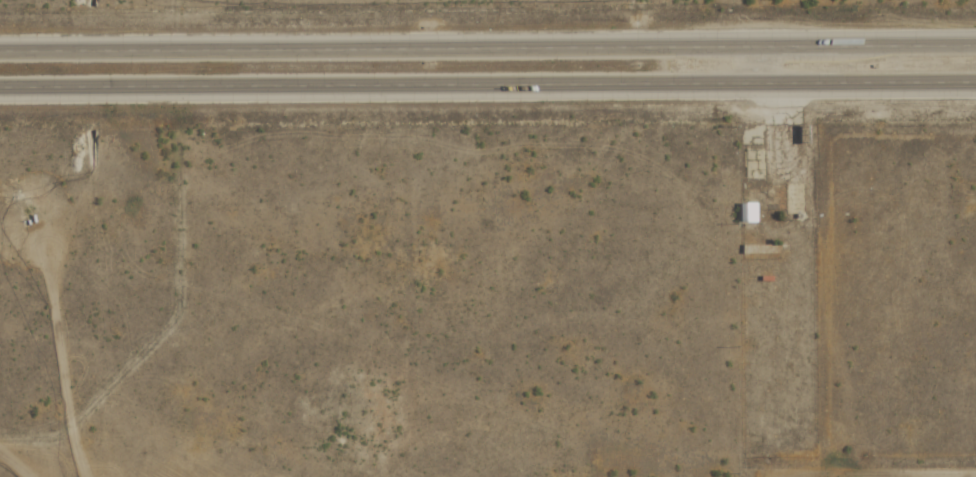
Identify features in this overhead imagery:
road: (488, 53)
road: (488, 90)
building: (747, 213)

